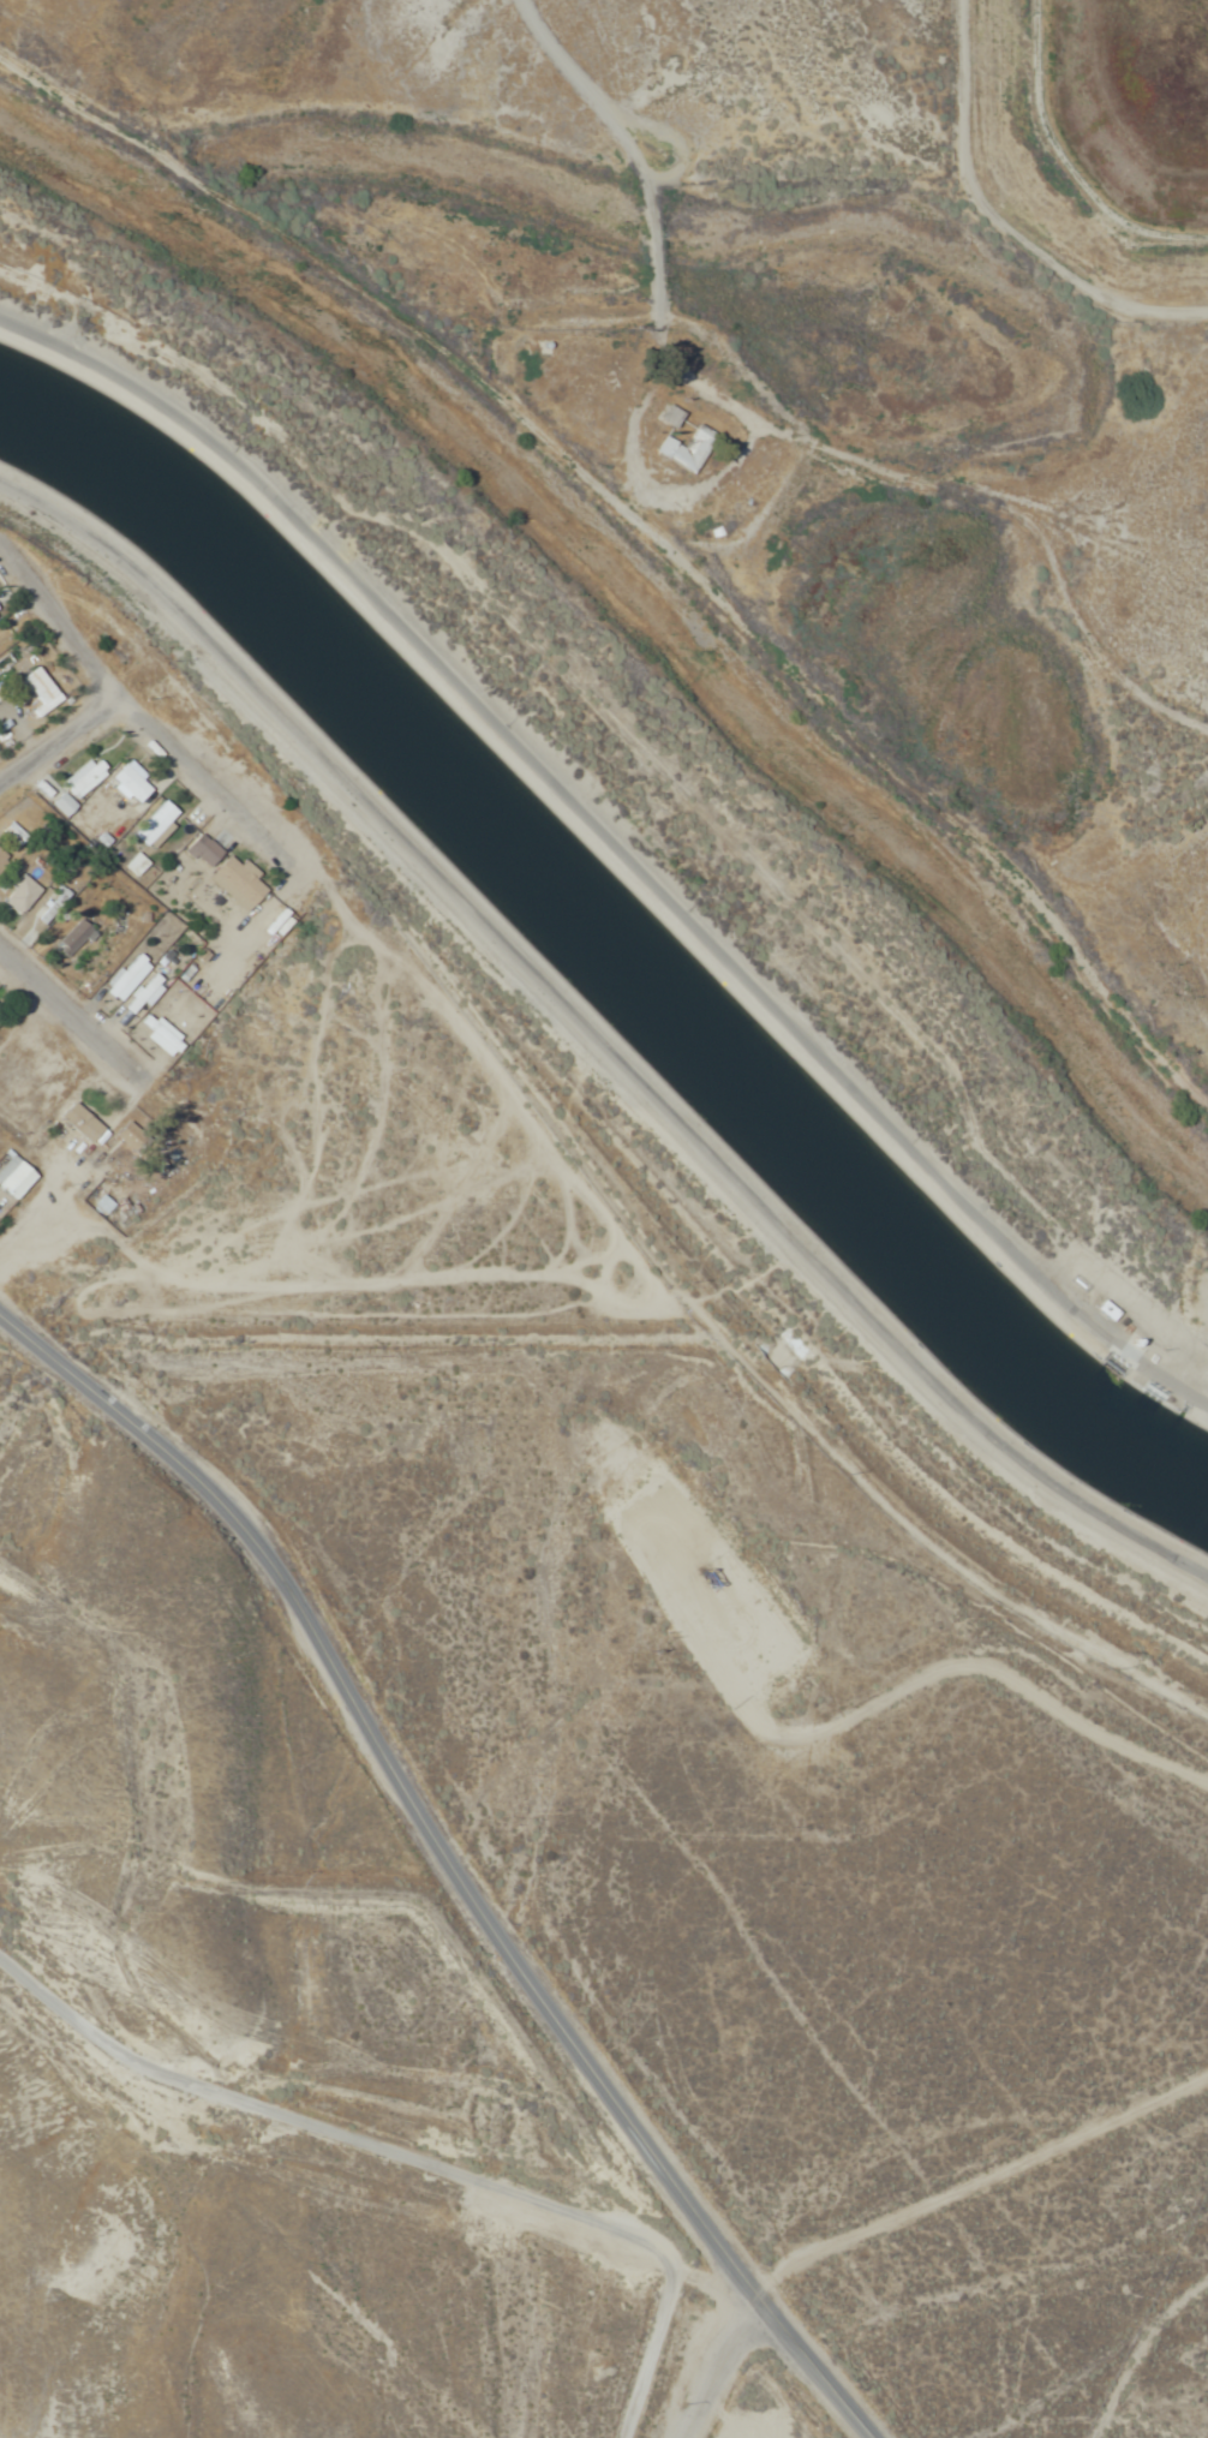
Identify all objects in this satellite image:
crop: (1092, 154)
building: (668, 416)
road: (772, 430)
building: (686, 449)
building: (4, 597)
building: (36, 692)
road: (137, 712)
road: (60, 739)
building: (127, 781)
building: (60, 803)
building: (150, 821)
road: (612, 845)
building: (196, 847)
building: (1, 860)
building: (17, 894)
building: (71, 936)
building: (130, 972)
road: (74, 1011)
road: (596, 1050)
building: (77, 1123)
building: (130, 1137)
building: (100, 1206)
road: (445, 1859)
road: (409, 2169)
road: (976, 2181)
road: (717, 2368)
road: (1155, 2376)

